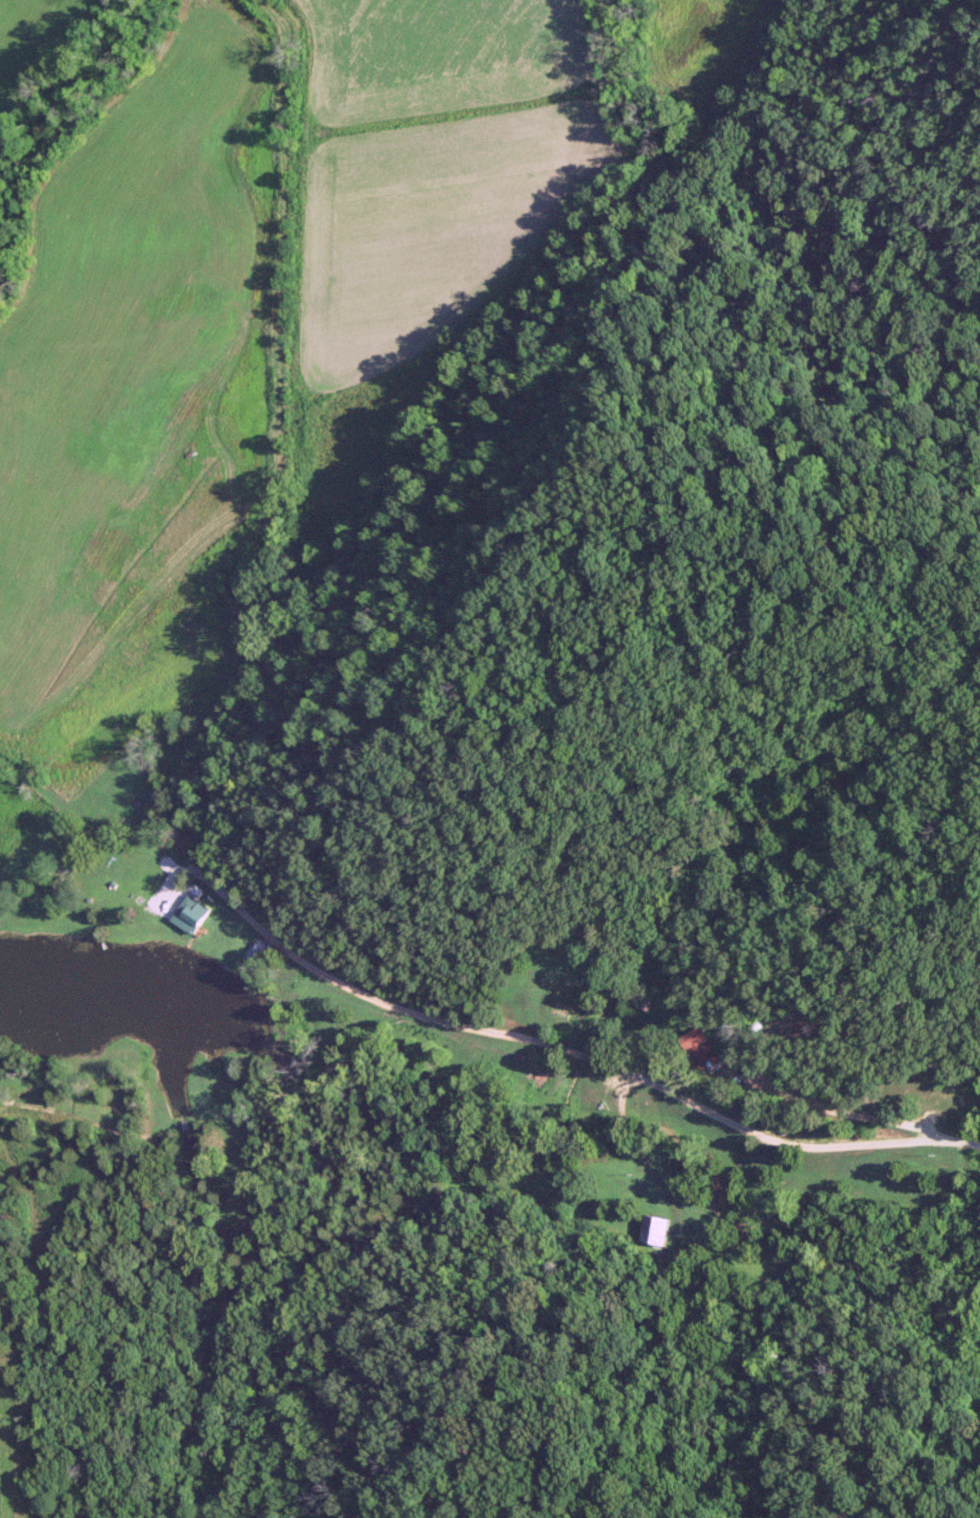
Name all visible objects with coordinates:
building: (188, 914)
building: (698, 1047)
road: (565, 1049)
building: (651, 1228)

